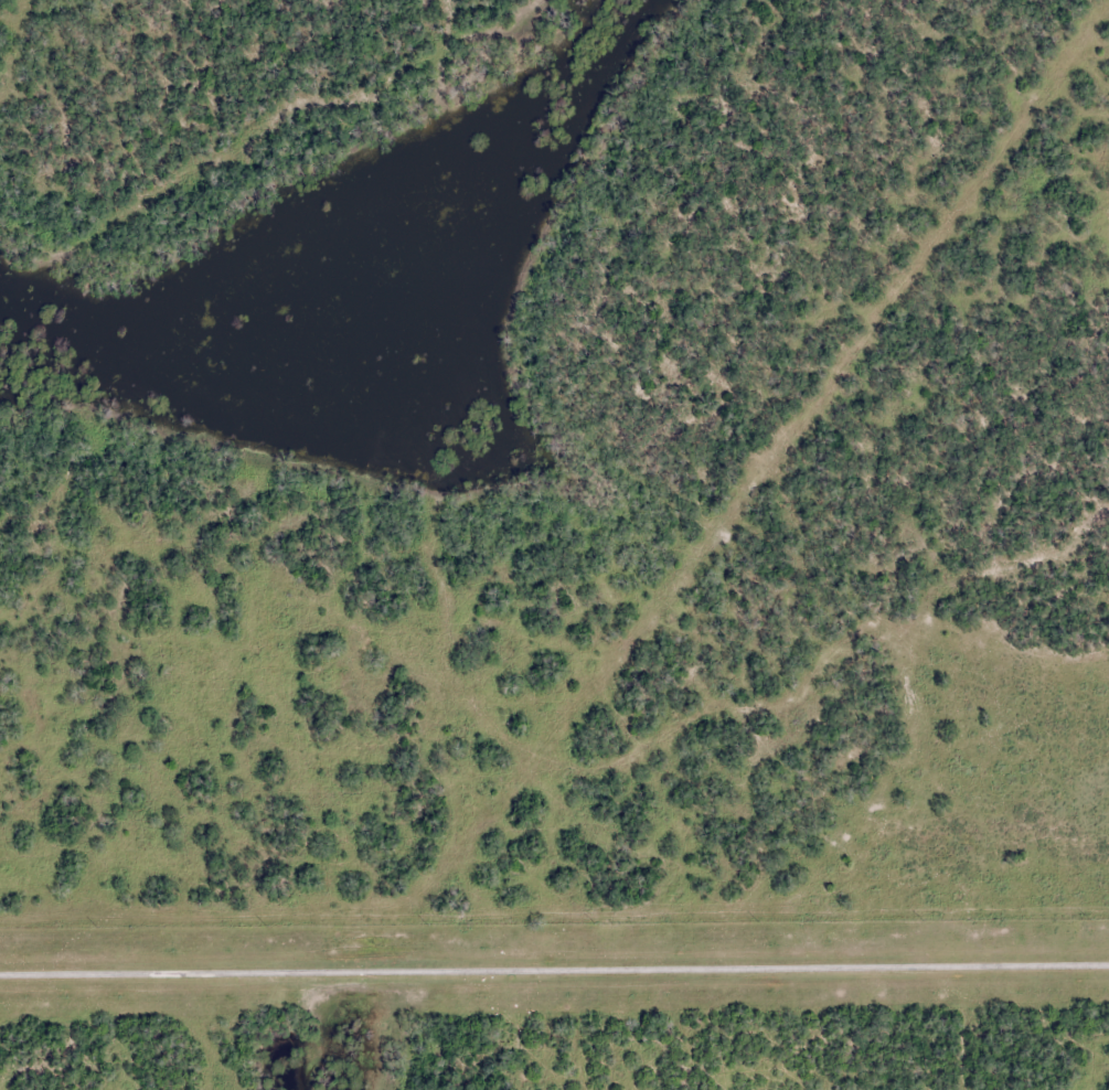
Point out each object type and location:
road: (554, 964)

